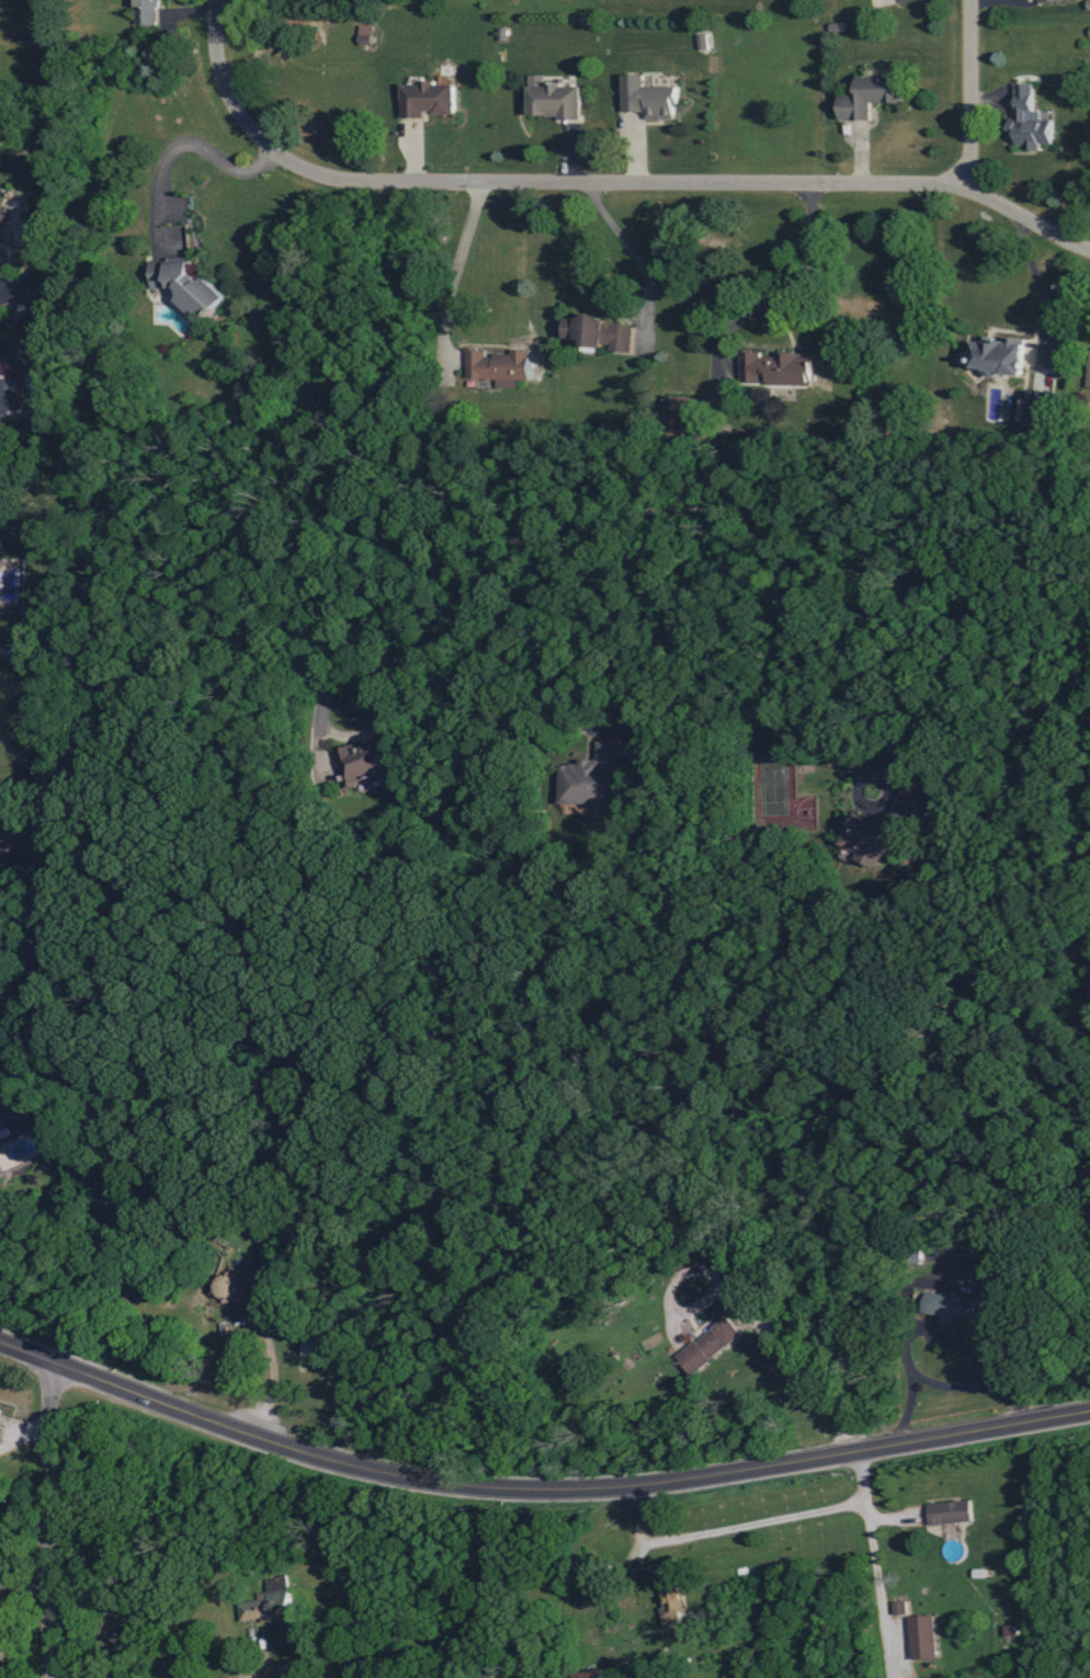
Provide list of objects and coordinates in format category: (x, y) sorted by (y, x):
building: (1048, 0)
building: (147, 12)
building: (364, 34)
road: (212, 38)
road: (965, 94)
building: (872, 96)
building: (651, 98)
building: (428, 100)
building: (555, 100)
building: (1030, 121)
road: (173, 168)
road: (635, 190)
building: (4, 215)
building: (0, 241)
road: (632, 267)
road: (446, 283)
building: (186, 285)
road: (1038, 285)
road: (763, 293)
building: (602, 333)
building: (1002, 356)
building: (499, 367)
building: (777, 368)
building: (1089, 383)
building: (9, 395)
building: (1038, 408)
building: (680, 413)
road: (550, 553)
road: (595, 579)
road: (912, 714)
road: (569, 741)
building: (366, 761)
building: (595, 779)
building: (16, 829)
building: (886, 829)
building: (18, 1104)
building: (266, 1257)
building: (726, 1266)
building: (711, 1345)
building: (313, 1346)
road: (275, 1354)
road: (909, 1361)
building: (0, 1409)
road: (536, 1482)
road: (844, 1507)
building: (951, 1511)
road: (53, 1515)
road: (883, 1578)
building: (672, 1600)
building: (268, 1603)
building: (899, 1607)
road: (465, 1609)
building: (924, 1636)
building: (1, 1648)
road: (236, 1657)
building: (592, 1674)

